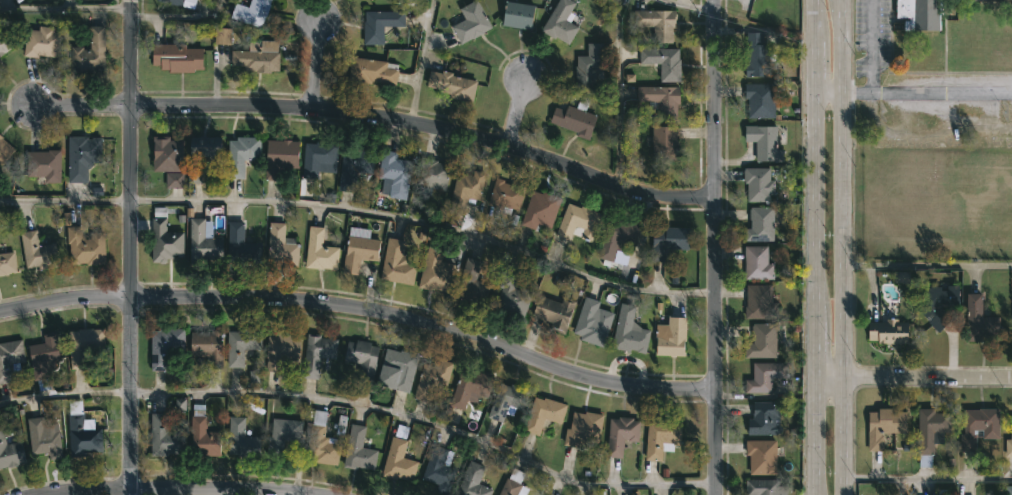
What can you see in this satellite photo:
building: (370, 0)
building: (371, 0)
building: (990, 1)
building: (182, 3)
road: (689, 6)
building: (253, 13)
building: (520, 15)
building: (916, 15)
building: (561, 22)
building: (472, 23)
building: (381, 24)
building: (658, 24)
building: (222, 36)
building: (41, 43)
building: (4, 44)
road: (866, 47)
building: (90, 53)
building: (759, 56)
building: (178, 58)
building: (258, 58)
road: (421, 58)
building: (664, 62)
road: (309, 64)
building: (589, 67)
building: (374, 73)
building: (454, 86)
road: (617, 92)
road: (927, 94)
road: (830, 96)
building: (662, 100)
building: (761, 100)
road: (378, 110)
road: (515, 112)
building: (574, 121)
building: (665, 143)
building: (766, 143)
building: (206, 146)
building: (4, 150)
building: (168, 155)
building: (242, 155)
building: (82, 157)
building: (318, 157)
building: (281, 158)
building: (356, 164)
building: (45, 165)
building: (395, 174)
building: (434, 175)
building: (194, 176)
building: (760, 185)
building: (467, 191)
building: (507, 196)
road: (64, 199)
building: (541, 210)
building: (580, 223)
road: (426, 224)
building: (761, 225)
building: (618, 238)
building: (204, 241)
building: (165, 242)
building: (669, 243)
building: (242, 246)
building: (86, 247)
road: (129, 247)
building: (282, 247)
road: (714, 247)
road: (816, 247)
road: (845, 247)
building: (360, 249)
building: (320, 251)
building: (38, 252)
road: (929, 262)
building: (7, 264)
building: (397, 264)
building: (759, 264)
building: (437, 272)
building: (473, 283)
building: (514, 294)
building: (760, 303)
building: (939, 306)
road: (362, 310)
building: (556, 313)
building: (981, 321)
building: (593, 323)
building: (630, 332)
building: (890, 332)
building: (672, 338)
building: (763, 342)
building: (84, 345)
building: (241, 345)
building: (166, 347)
building: (208, 347)
building: (283, 350)
building: (318, 354)
building: (44, 355)
building: (363, 357)
building: (10, 358)
building: (398, 369)
building: (766, 377)
building: (433, 378)
road: (913, 379)
building: (471, 387)
building: (508, 400)
road: (362, 405)
building: (544, 413)
building: (766, 418)
building: (885, 425)
building: (980, 426)
building: (584, 427)
building: (83, 431)
building: (932, 432)
building: (622, 434)
building: (284, 435)
building: (164, 436)
building: (203, 436)
building: (44, 437)
building: (663, 437)
building: (242, 438)
building: (322, 441)
building: (1009, 446)
building: (359, 449)
building: (10, 451)
building: (763, 456)
building: (400, 457)
building: (440, 468)
road: (930, 474)
building: (473, 481)
building: (514, 484)
building: (766, 487)
road: (178, 488)
building: (1009, 490)

